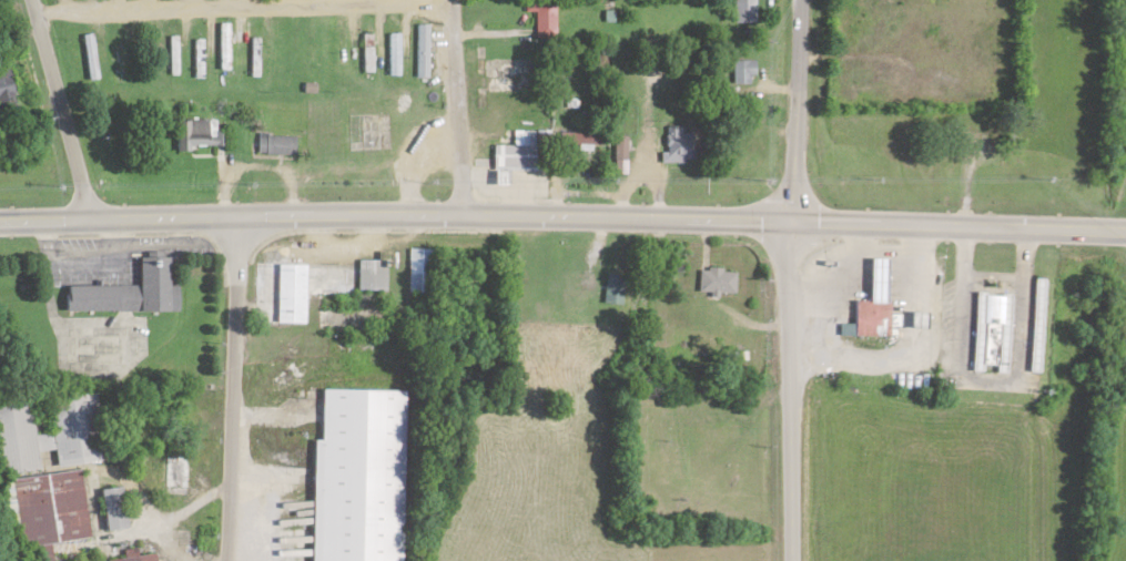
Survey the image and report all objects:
road: (242, 6)
building: (740, 12)
building: (537, 19)
building: (337, 44)
building: (418, 53)
building: (365, 54)
building: (389, 57)
building: (170, 58)
building: (252, 60)
building: (196, 61)
building: (115, 64)
building: (88, 68)
building: (739, 74)
building: (7, 92)
road: (455, 104)
road: (61, 108)
building: (194, 136)
building: (672, 146)
building: (272, 147)
building: (511, 153)
road: (562, 212)
building: (415, 272)
road: (791, 279)
building: (713, 283)
building: (306, 288)
building: (125, 293)
building: (869, 305)
building: (987, 333)
road: (1093, 357)
road: (230, 388)
building: (662, 424)
building: (51, 436)
building: (363, 473)
building: (173, 477)
building: (111, 510)
building: (43, 512)
building: (146, 560)

